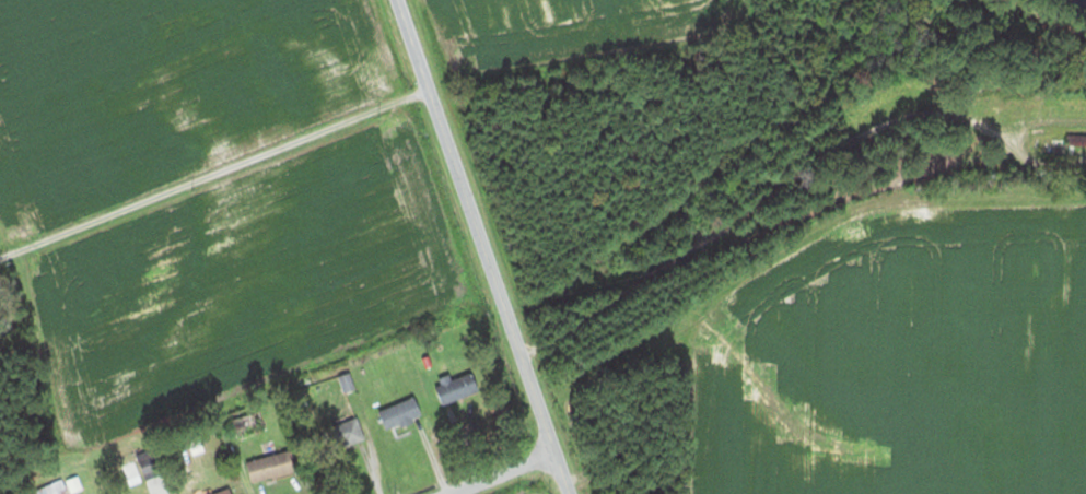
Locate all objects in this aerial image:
road: (761, 167)
road: (211, 172)
road: (481, 246)
building: (346, 381)
building: (458, 387)
building: (402, 413)
building: (343, 433)
building: (276, 464)
road: (499, 472)
building: (49, 489)
building: (225, 491)

